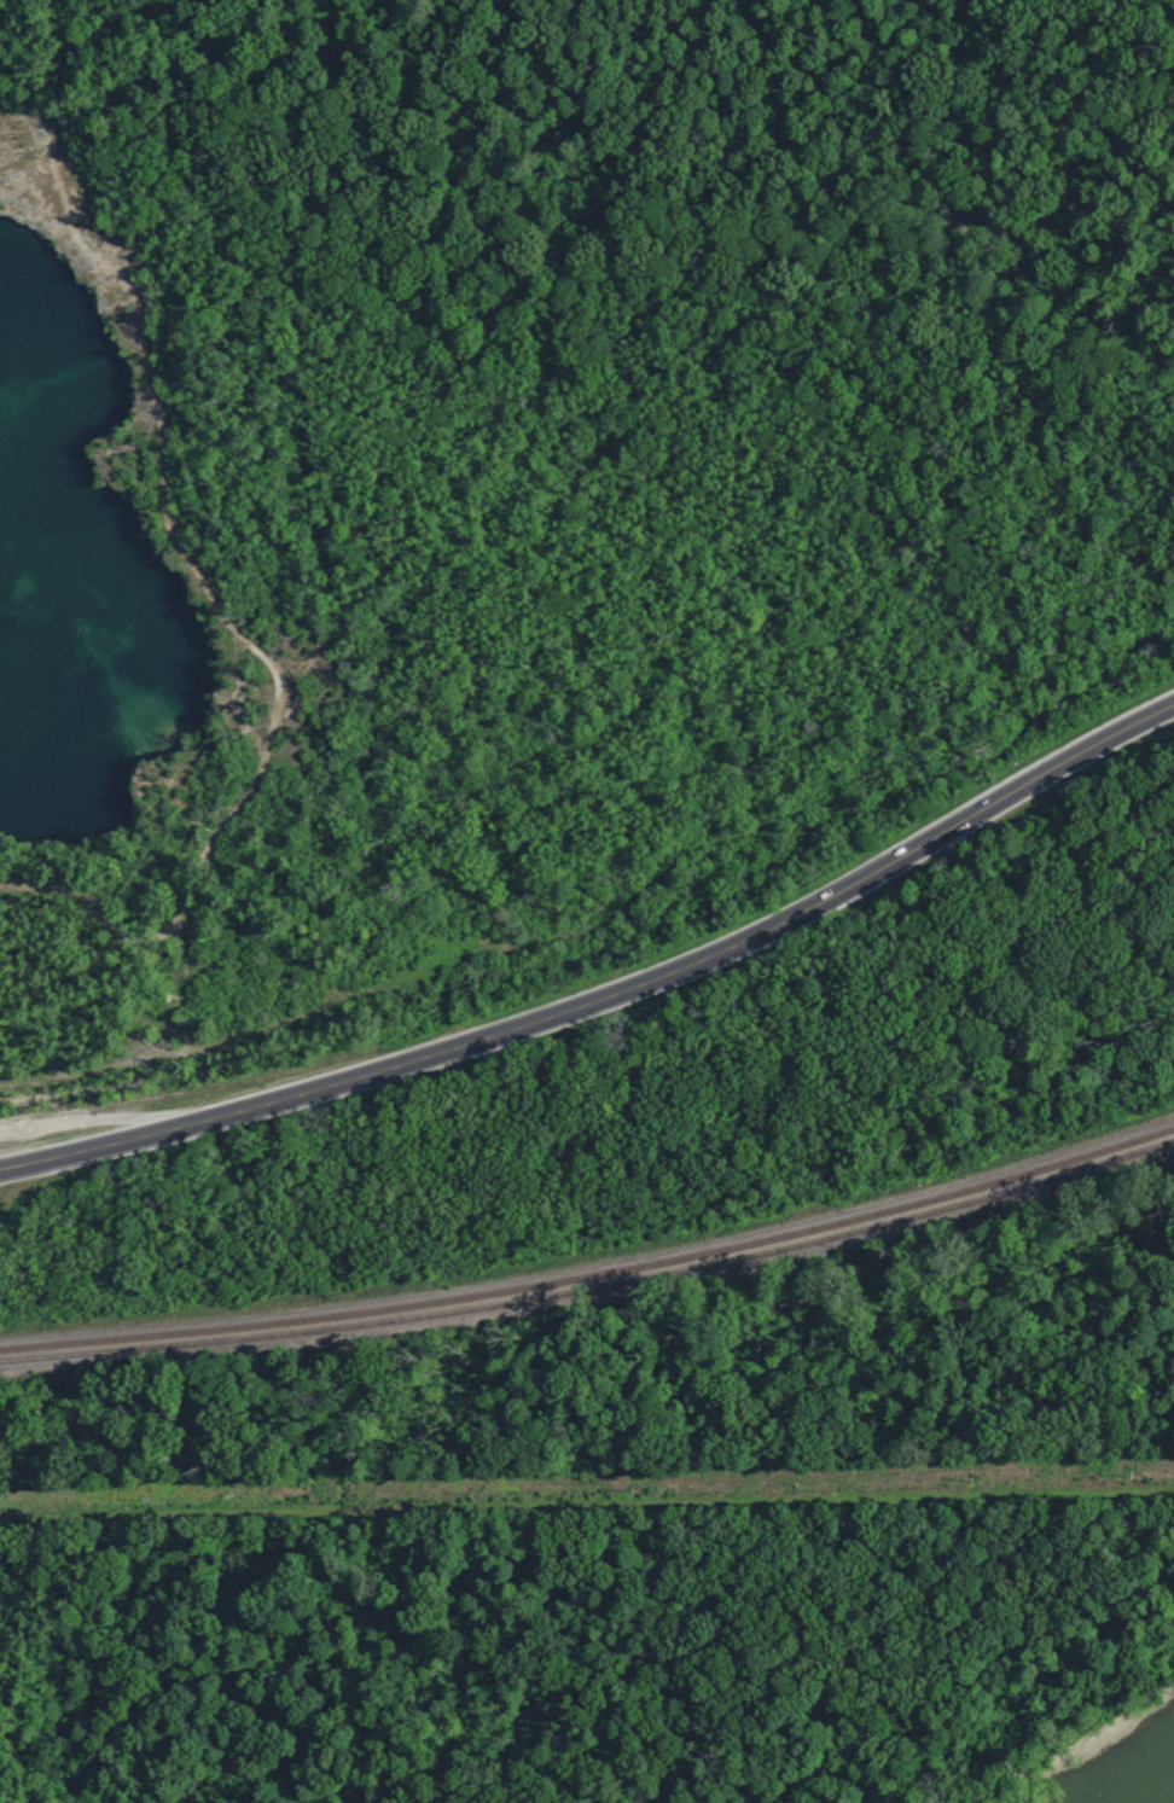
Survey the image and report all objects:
road: (348, 902)
road: (614, 1000)
railway: (594, 1272)
railway: (594, 1287)
road: (587, 1495)

